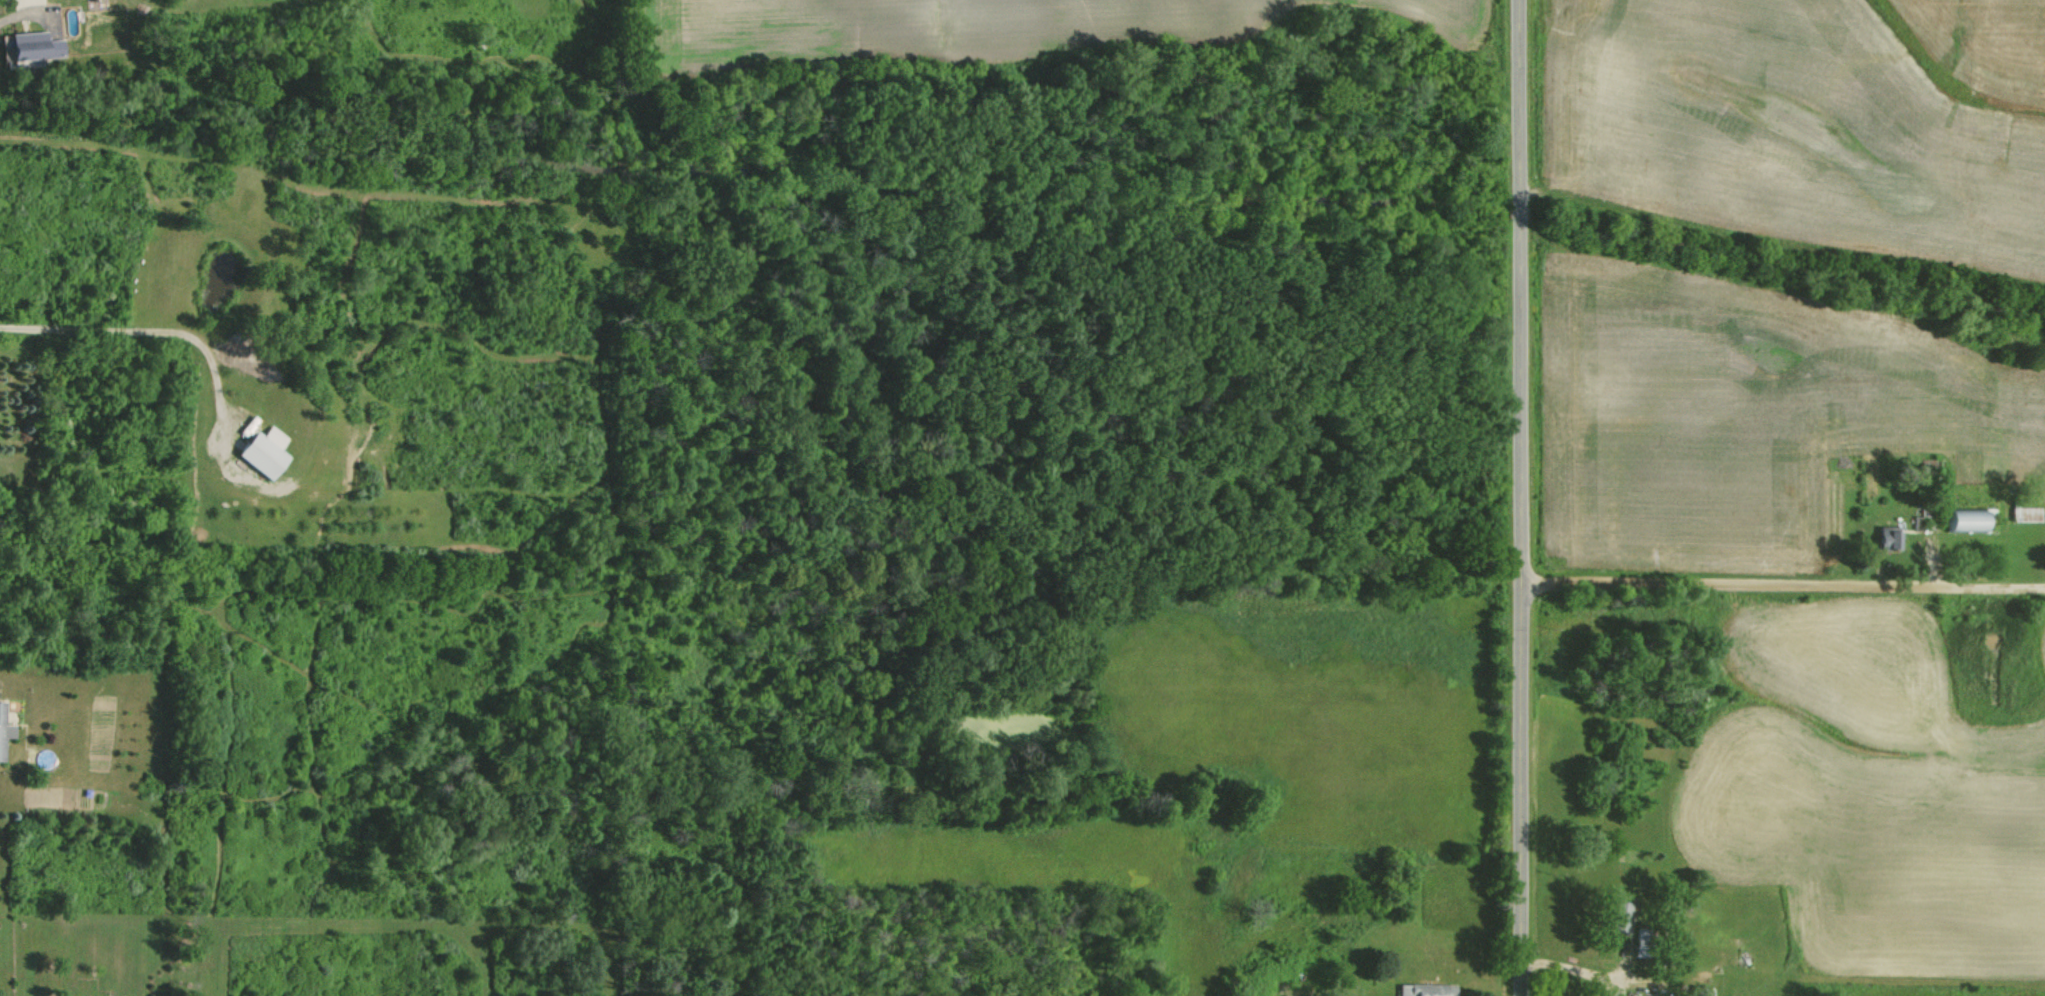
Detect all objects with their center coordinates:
building: (26, 2)
road: (7, 18)
building: (29, 45)
road: (136, 330)
building: (258, 451)
road: (1519, 497)
building: (2024, 513)
building: (1960, 519)
building: (1881, 537)
road: (1782, 585)
building: (3, 732)
building: (1615, 916)
road: (1571, 970)
building: (1419, 989)

